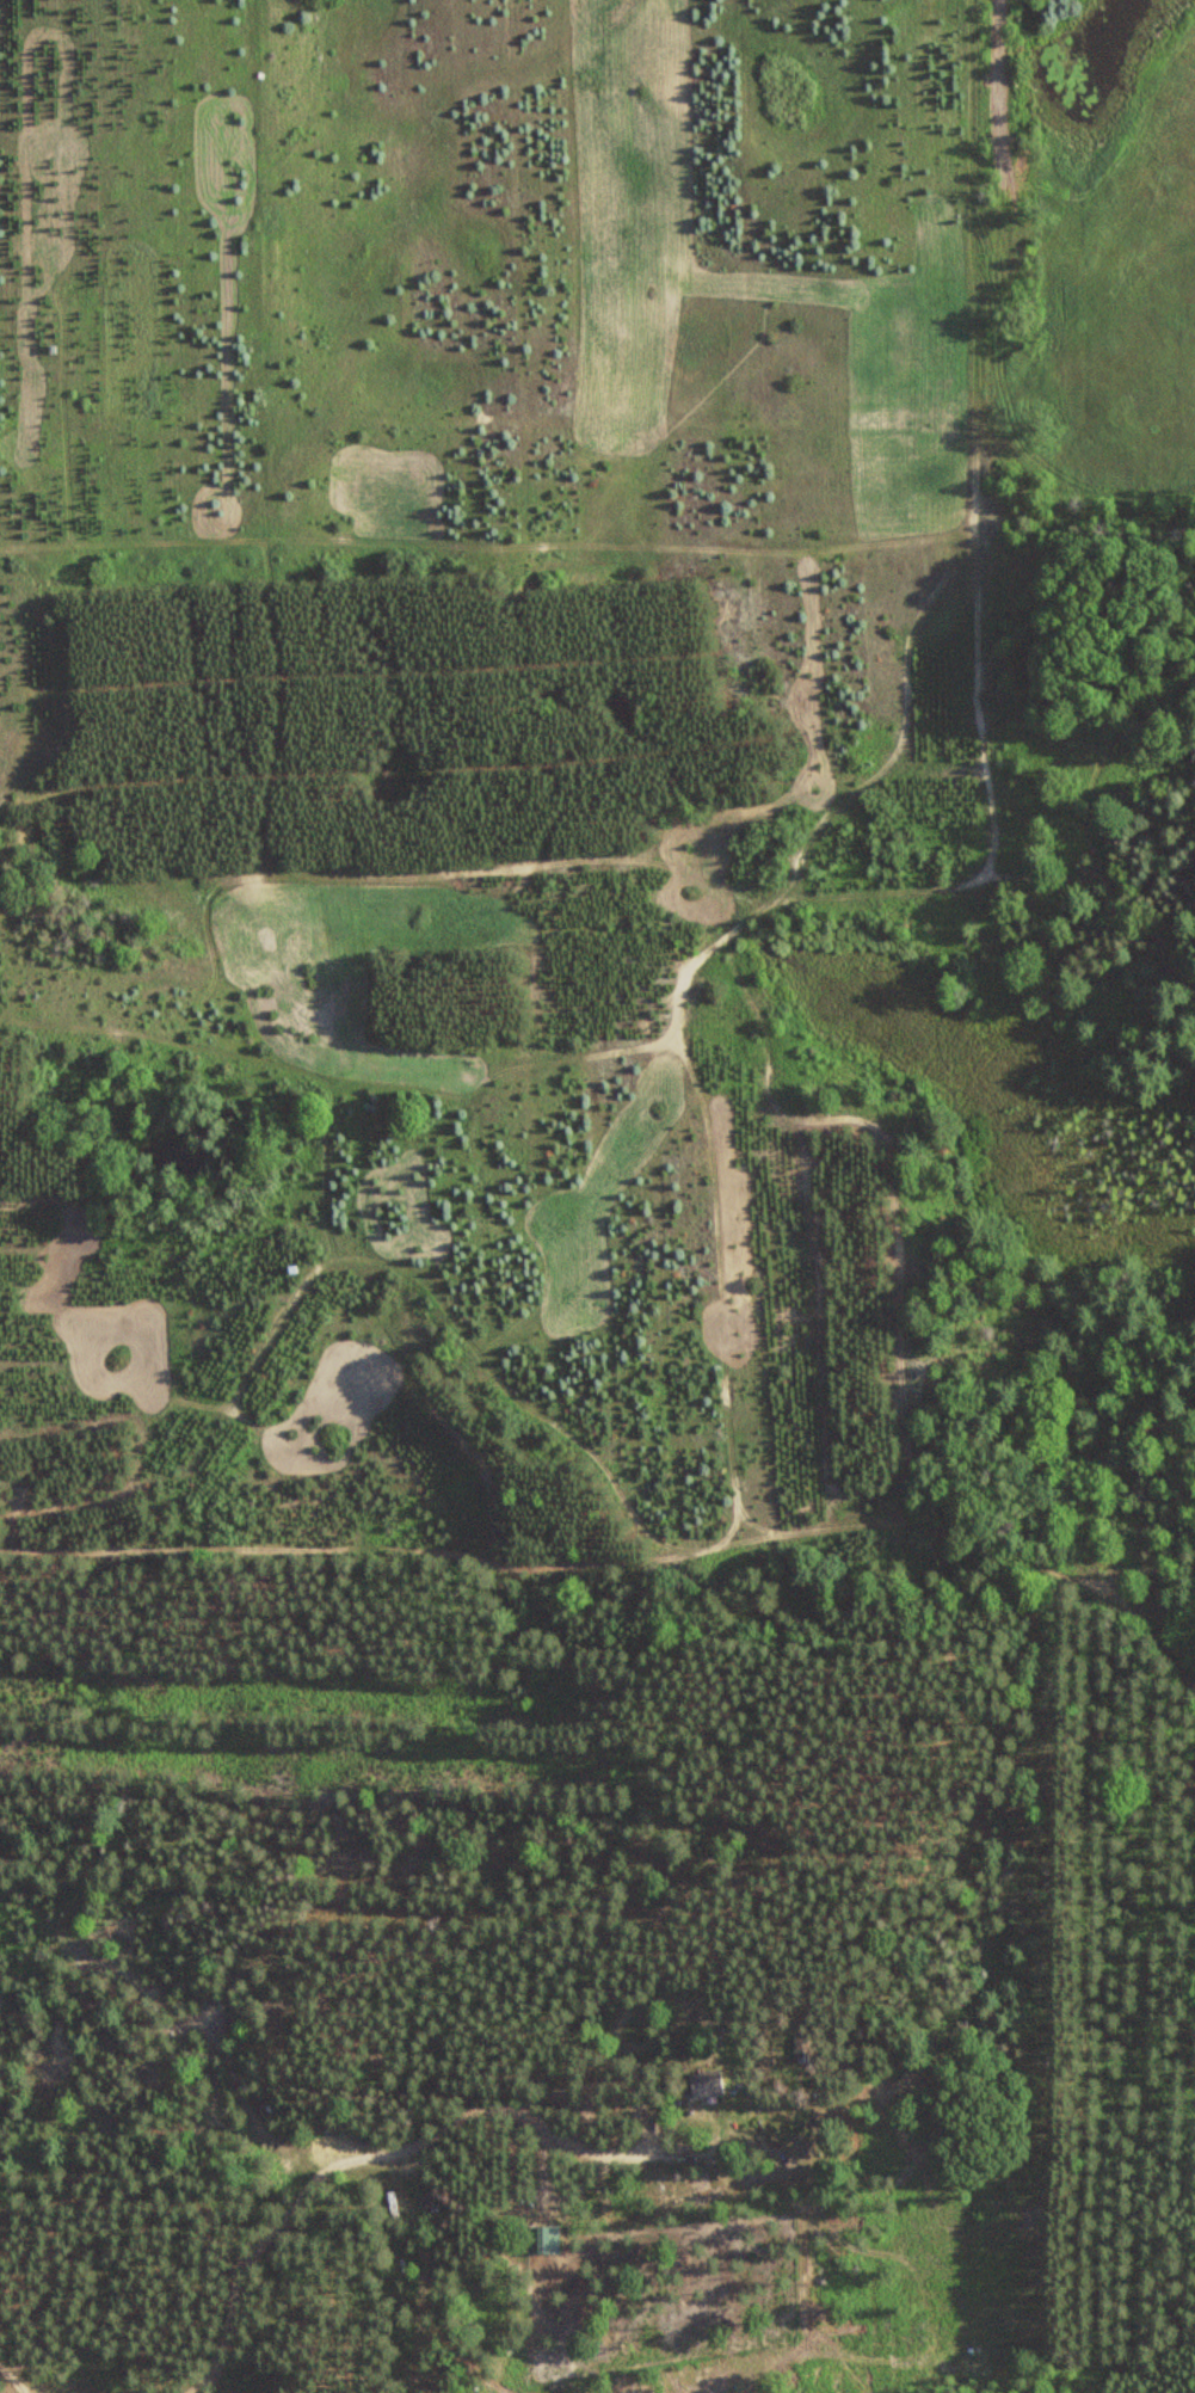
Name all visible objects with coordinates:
road: (623, 1556)
road: (0, 1962)
building: (704, 2084)
road: (340, 2164)
building: (366, 2176)
building: (430, 2198)
road: (17, 2379)

